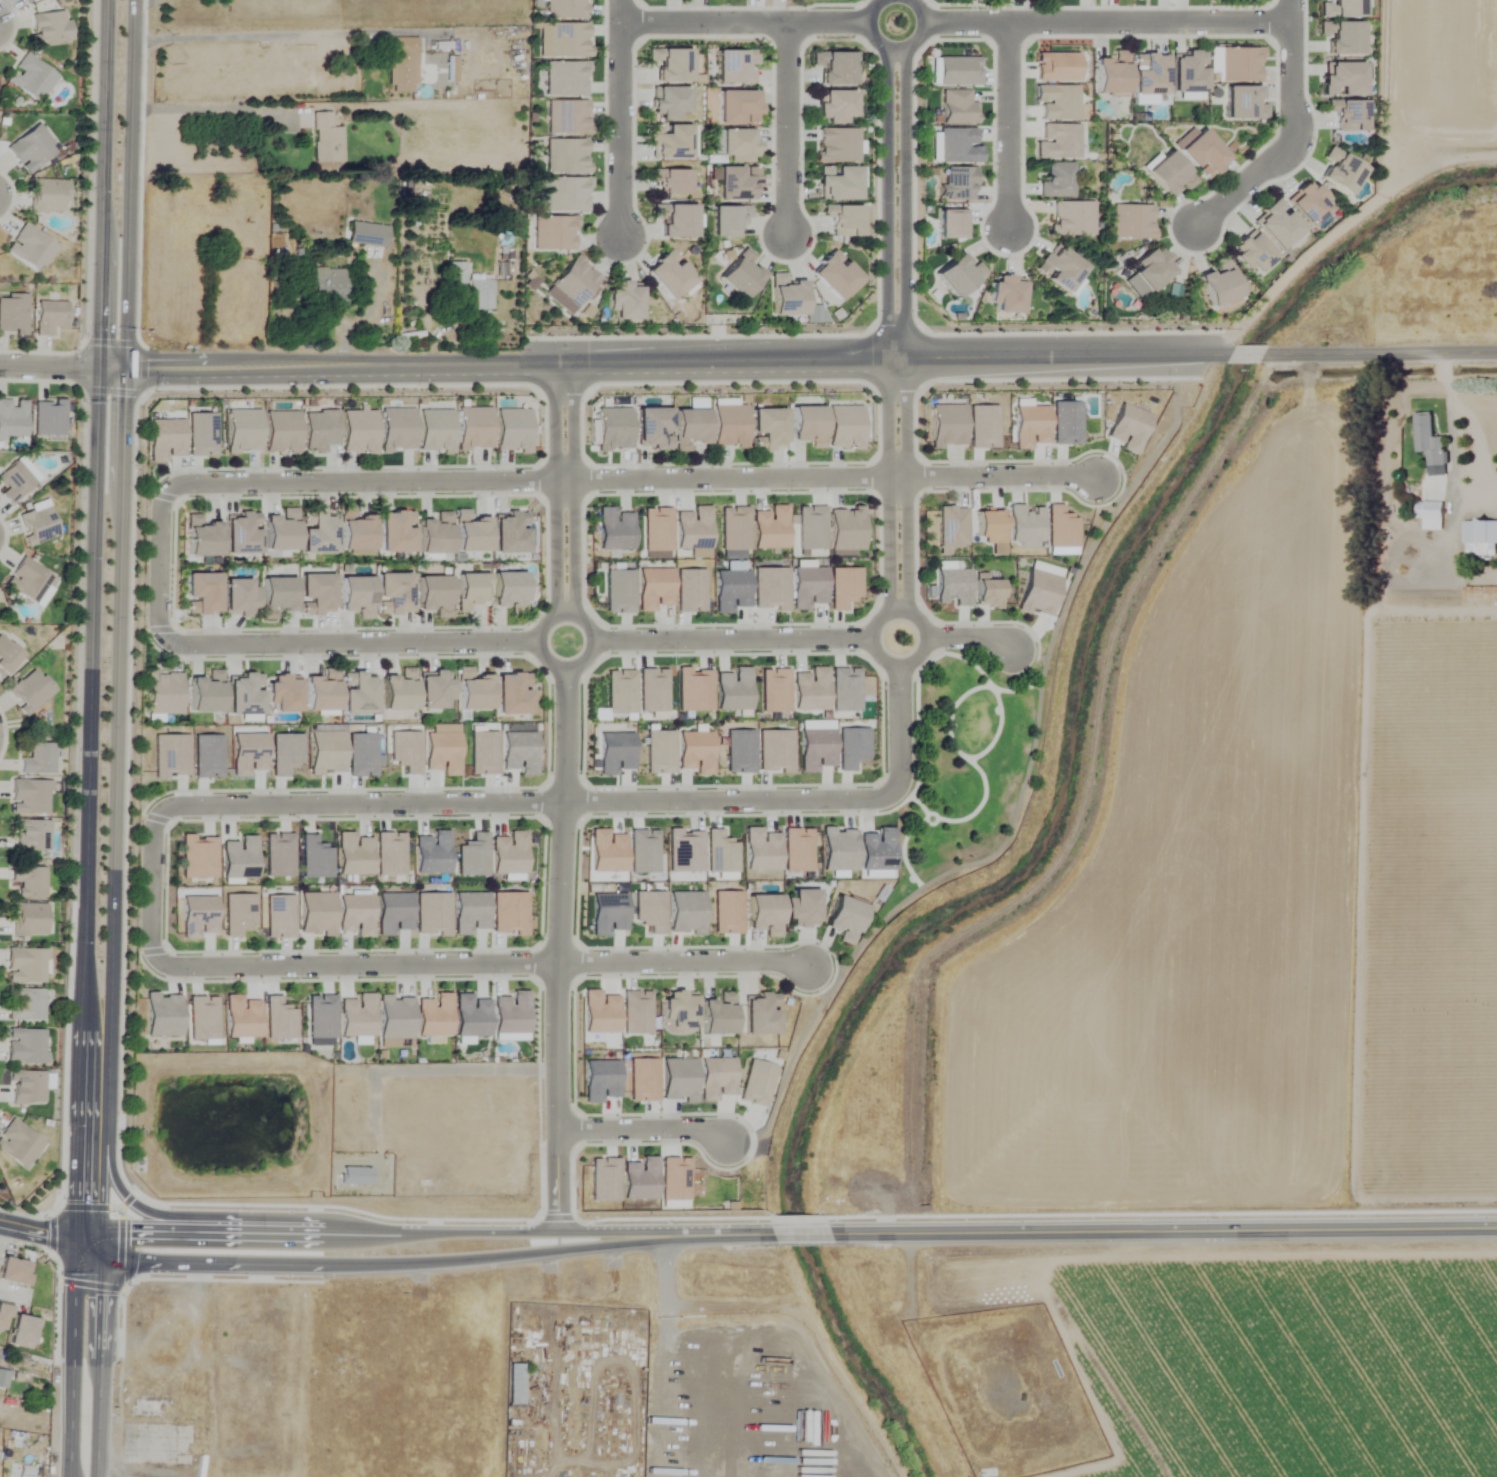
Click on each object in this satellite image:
building: (24, 0)
building: (565, 9)
building: (1343, 9)
road: (955, 24)
building: (50, 28)
road: (253, 36)
building: (1342, 38)
building: (567, 41)
building: (401, 65)
building: (1240, 65)
building: (670, 66)
building: (734, 67)
building: (835, 68)
building: (1188, 73)
building: (1112, 74)
building: (1149, 75)
building: (30, 78)
building: (566, 79)
building: (1343, 81)
building: (669, 103)
building: (1243, 105)
building: (737, 108)
building: (836, 108)
building: (957, 108)
road: (212, 109)
building: (1348, 116)
building: (567, 117)
road: (618, 118)
road: (1007, 127)
road: (786, 130)
road: (1293, 136)
building: (326, 140)
building: (669, 142)
building: (738, 145)
building: (837, 146)
building: (31, 149)
building: (1203, 155)
building: (566, 157)
building: (1342, 173)
building: (1170, 175)
road: (896, 179)
building: (1057, 181)
building: (670, 182)
building: (737, 184)
building: (839, 184)
building: (958, 184)
building: (567, 195)
building: (48, 197)
building: (1309, 205)
building: (1071, 219)
building: (675, 221)
building: (728, 221)
building: (844, 221)
building: (1131, 222)
building: (1278, 226)
building: (227, 232)
building: (554, 233)
building: (367, 235)
building: (30, 249)
building: (1253, 254)
building: (1060, 270)
building: (1149, 274)
building: (670, 276)
building: (741, 276)
building: (836, 277)
building: (960, 277)
building: (575, 283)
building: (1219, 285)
building: (468, 287)
building: (330, 288)
building: (1008, 296)
building: (787, 297)
building: (625, 301)
building: (12, 315)
building: (51, 319)
road: (811, 360)
road: (62, 364)
building: (49, 417)
building: (12, 419)
road: (1470, 422)
building: (809, 425)
building: (730, 426)
building: (948, 426)
building: (690, 427)
building: (845, 427)
building: (474, 428)
building: (654, 428)
building: (614, 429)
building: (768, 429)
building: (319, 430)
building: (397, 430)
building: (436, 430)
building: (513, 430)
building: (243, 431)
building: (359, 431)
building: (282, 432)
building: (1429, 439)
building: (16, 480)
road: (634, 482)
building: (1433, 510)
building: (38, 523)
building: (355, 529)
building: (281, 530)
building: (846, 530)
building: (395, 531)
building: (317, 532)
building: (470, 532)
building: (510, 532)
building: (242, 533)
building: (435, 533)
building: (202, 537)
building: (1480, 537)
road: (159, 569)
road: (897, 581)
building: (31, 582)
building: (470, 589)
building: (509, 590)
building: (394, 591)
building: (201, 593)
building: (316, 594)
building: (433, 594)
building: (356, 595)
building: (277, 596)
building: (239, 597)
road: (600, 640)
building: (6, 656)
building: (434, 689)
building: (30, 690)
building: (398, 690)
building: (472, 690)
building: (322, 691)
building: (164, 692)
building: (206, 692)
building: (283, 692)
building: (511, 693)
building: (244, 694)
building: (359, 694)
road: (89, 738)
road: (114, 738)
park: (971, 752)
building: (38, 758)
road: (560, 796)
building: (29, 797)
road: (525, 802)
building: (30, 835)
building: (28, 882)
building: (801, 908)
building: (764, 914)
building: (845, 918)
building: (27, 920)
crop: (1252, 959)
building: (25, 966)
road: (400, 966)
building: (26, 1006)
building: (679, 1009)
building: (718, 1014)
building: (761, 1015)
building: (25, 1046)
building: (26, 1087)
road: (642, 1132)
building: (19, 1144)
building: (355, 1176)
building: (394, 1176)
road: (131, 1200)
road: (157, 1226)
road: (37, 1227)
road: (1170, 1227)
road: (270, 1228)
road: (363, 1229)
road: (533, 1229)
road: (801, 1230)
road: (711, 1232)
road: (87, 1236)
road: (494, 1254)
road: (208, 1259)
building: (15, 1272)
road: (666, 1286)
building: (4, 1315)
building: (23, 1332)
road: (779, 1353)
building: (5, 1381)
building: (515, 1385)
road: (835, 1405)
building: (146, 1407)
road: (664, 1409)
building: (251, 1437)
building: (812, 1465)
road: (71, 1472)

